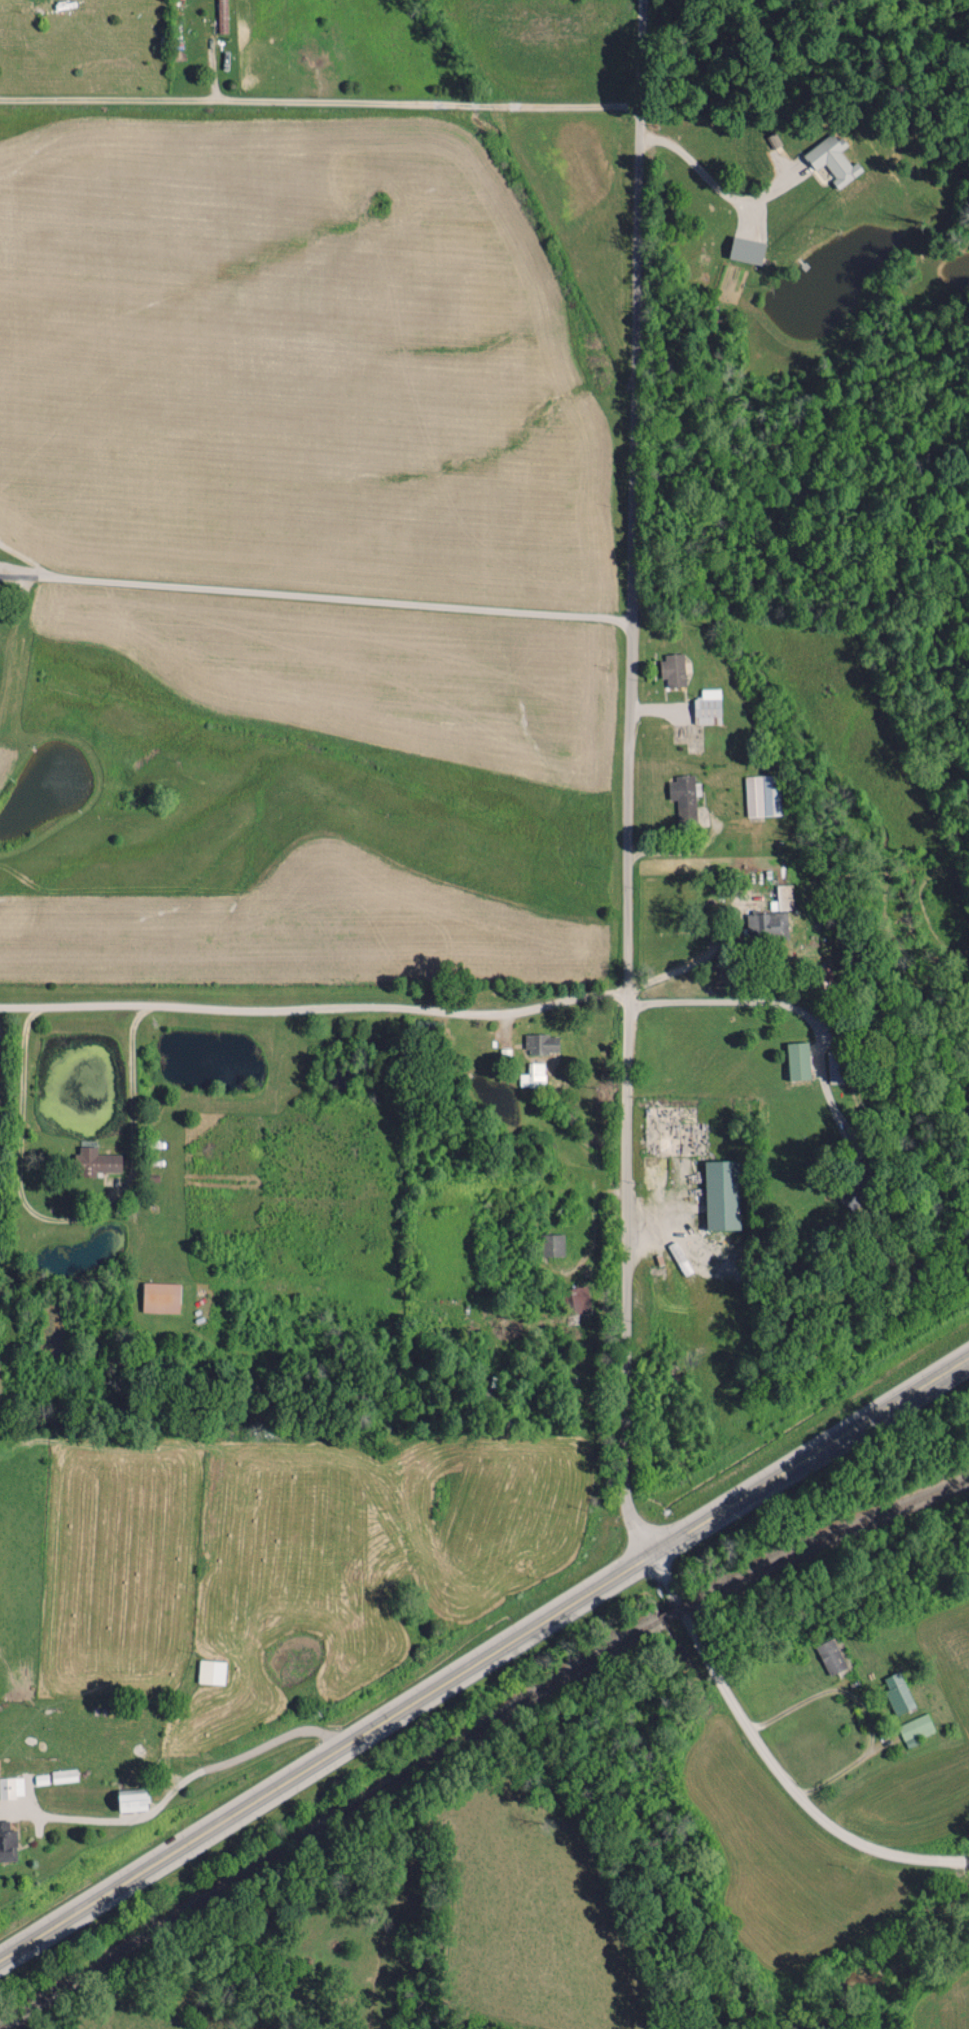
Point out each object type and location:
road: (321, 104)
building: (833, 159)
building: (672, 669)
building: (707, 706)
road: (631, 779)
building: (762, 795)
building: (683, 798)
building: (782, 898)
building: (766, 924)
road: (786, 1004)
road: (317, 1010)
building: (541, 1044)
building: (798, 1061)
building: (836, 1067)
building: (533, 1075)
building: (95, 1162)
building: (721, 1196)
building: (551, 1245)
building: (160, 1296)
building: (579, 1299)
railway: (830, 1537)
railway: (675, 1613)
building: (830, 1655)
road: (484, 1656)
building: (210, 1671)
building: (898, 1693)
building: (916, 1729)
road: (761, 1760)
road: (180, 1780)
building: (11, 1787)
building: (132, 1799)
railway: (326, 1823)
building: (7, 1842)
road: (966, 1860)

